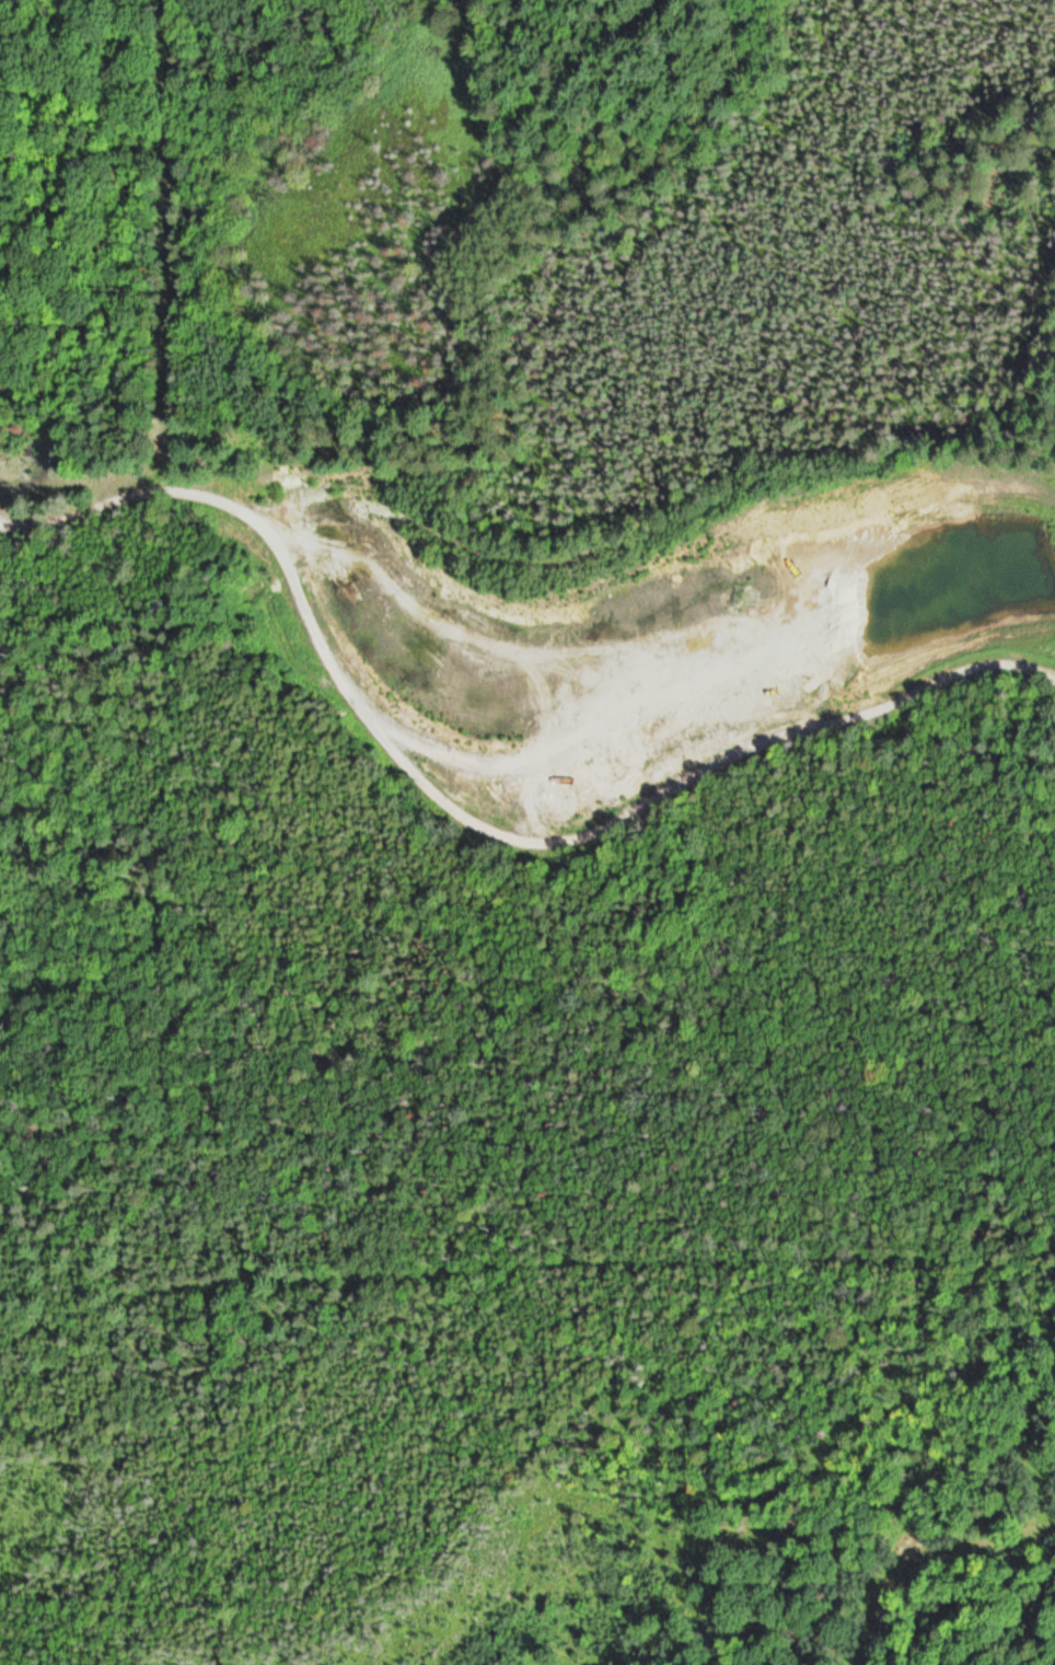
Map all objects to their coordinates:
road: (2, 2)
quarry: (650, 622)
road: (441, 625)
road: (466, 819)

